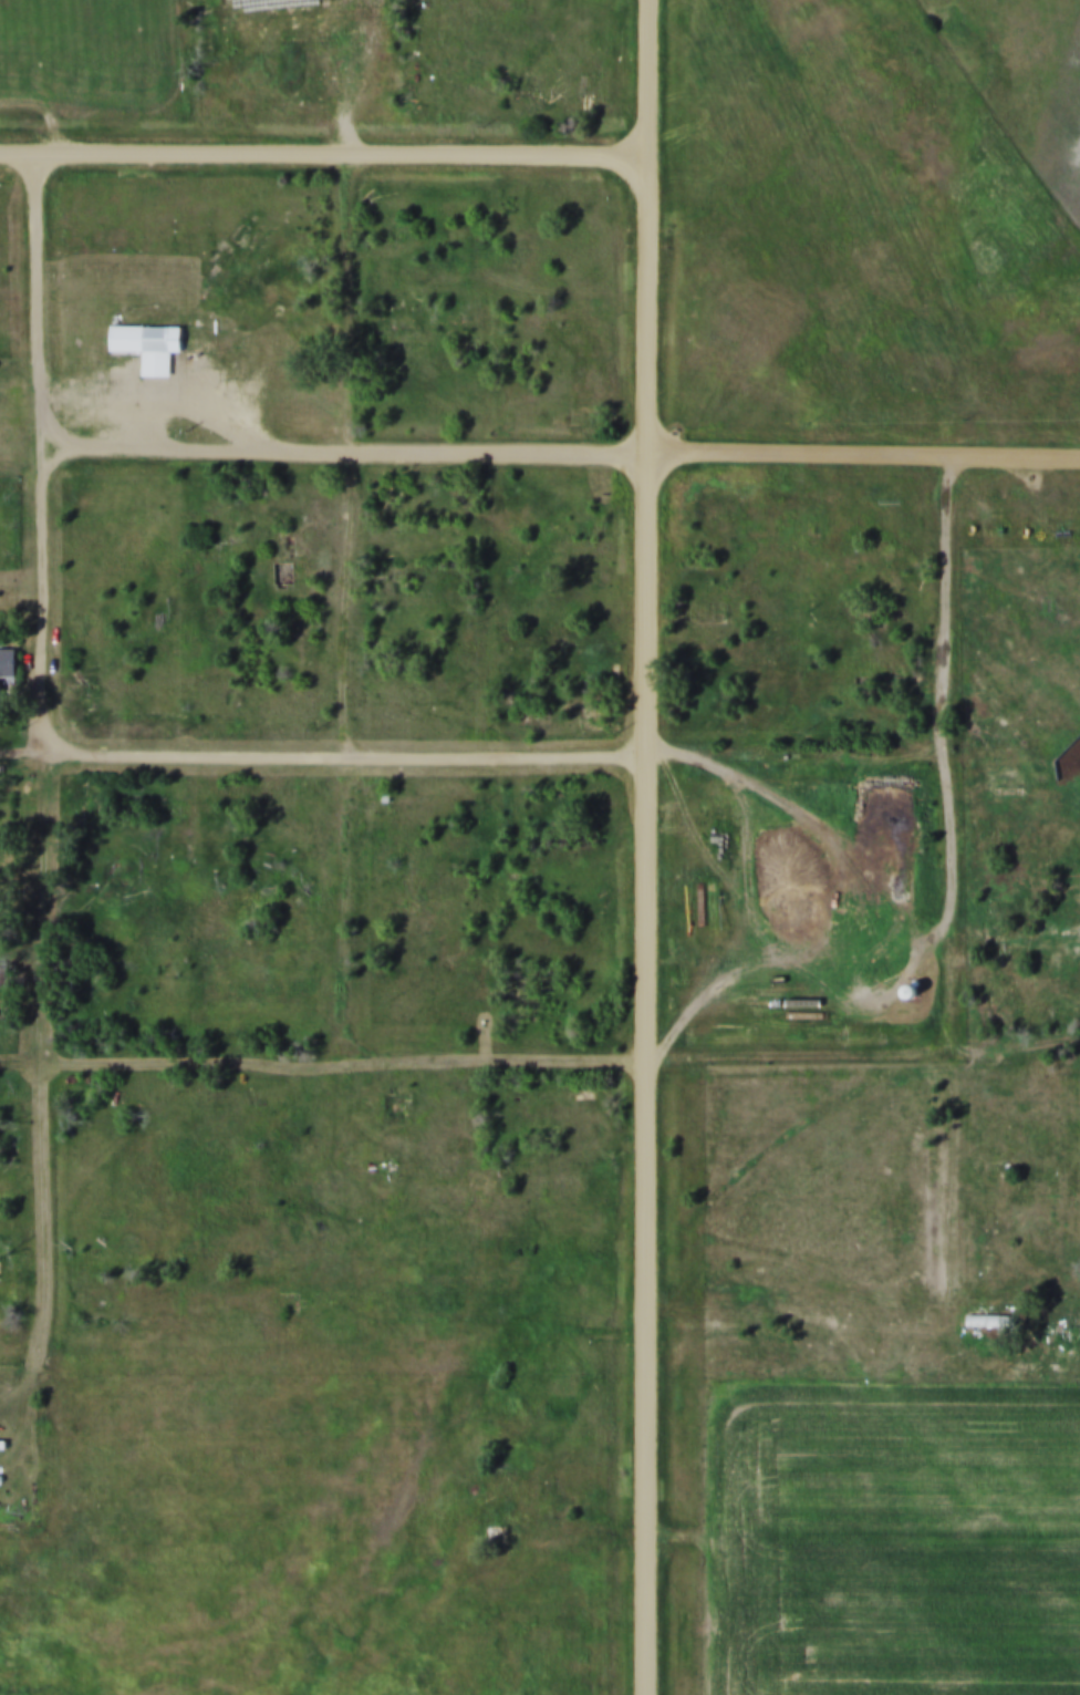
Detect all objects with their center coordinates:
road: (328, 147)
road: (353, 297)
building: (149, 341)
road: (174, 391)
road: (353, 445)
road: (51, 446)
road: (866, 449)
road: (654, 526)
road: (353, 599)
building: (8, 659)
building: (0, 691)
road: (803, 747)
road: (352, 753)
building: (387, 793)
building: (765, 826)
road: (50, 902)
road: (352, 905)
building: (911, 988)
silo: (911, 988)
road: (957, 1040)
road: (807, 1050)
road: (351, 1057)
road: (52, 1240)
building: (988, 1315)
road: (655, 1374)
building: (3, 1439)
building: (2, 1474)

